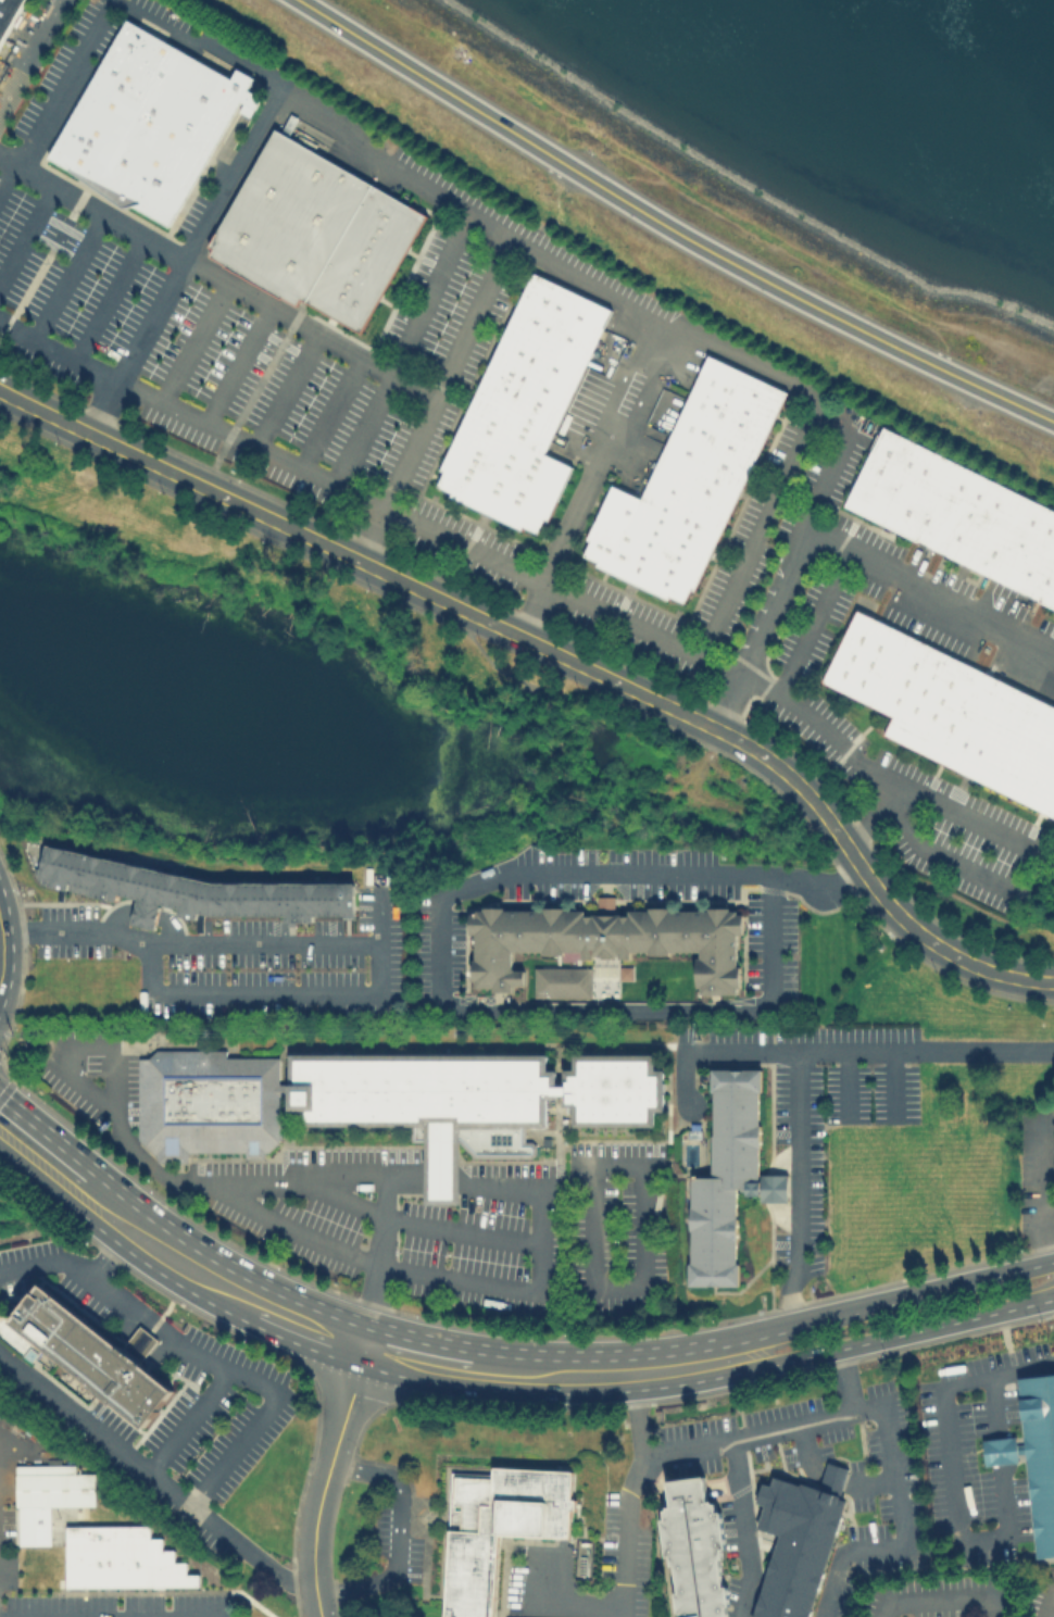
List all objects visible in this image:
building: (8, 14)
road: (29, 54)
building: (152, 125)
road: (667, 227)
building: (313, 230)
road: (26, 231)
road: (522, 243)
road: (186, 261)
road: (68, 275)
road: (226, 281)
road: (110, 297)
road: (193, 341)
road: (401, 346)
road: (236, 363)
road: (447, 371)
road: (286, 389)
building: (523, 406)
road: (329, 412)
road: (590, 480)
building: (686, 485)
building: (958, 513)
road: (758, 529)
road: (372, 534)
road: (485, 555)
road: (928, 588)
road: (811, 619)
road: (555, 653)
building: (950, 709)
road: (971, 819)
road: (942, 860)
building: (196, 892)
building: (604, 903)
road: (380, 918)
road: (77, 931)
building: (610, 941)
road: (440, 974)
building: (628, 974)
building: (563, 983)
road: (381, 996)
road: (799, 1065)
road: (12, 1079)
building: (391, 1096)
building: (694, 1135)
road: (38, 1154)
road: (1043, 1164)
road: (402, 1175)
road: (341, 1177)
road: (442, 1177)
building: (729, 1179)
road: (505, 1182)
road: (362, 1203)
road: (102, 1206)
road: (279, 1223)
road: (1045, 1236)
road: (385, 1262)
road: (75, 1266)
road: (191, 1269)
road: (651, 1290)
road: (884, 1305)
road: (312, 1329)
road: (888, 1338)
building: (96, 1355)
road: (416, 1361)
road: (643, 1374)
road: (241, 1375)
road: (515, 1375)
road: (852, 1380)
road: (997, 1409)
road: (346, 1414)
road: (195, 1425)
road: (688, 1449)
road: (805, 1451)
building: (1000, 1452)
road: (1003, 1452)
road: (894, 1455)
building: (1041, 1455)
road: (956, 1472)
road: (151, 1474)
road: (835, 1478)
road: (875, 1479)
building: (837, 1481)
building: (57, 1483)
road: (636, 1494)
road: (749, 1528)
building: (498, 1529)
road: (402, 1535)
building: (700, 1546)
building: (801, 1546)
road: (314, 1549)
building: (122, 1557)
road: (939, 1601)
road: (565, 1609)
road: (1051, 1610)

